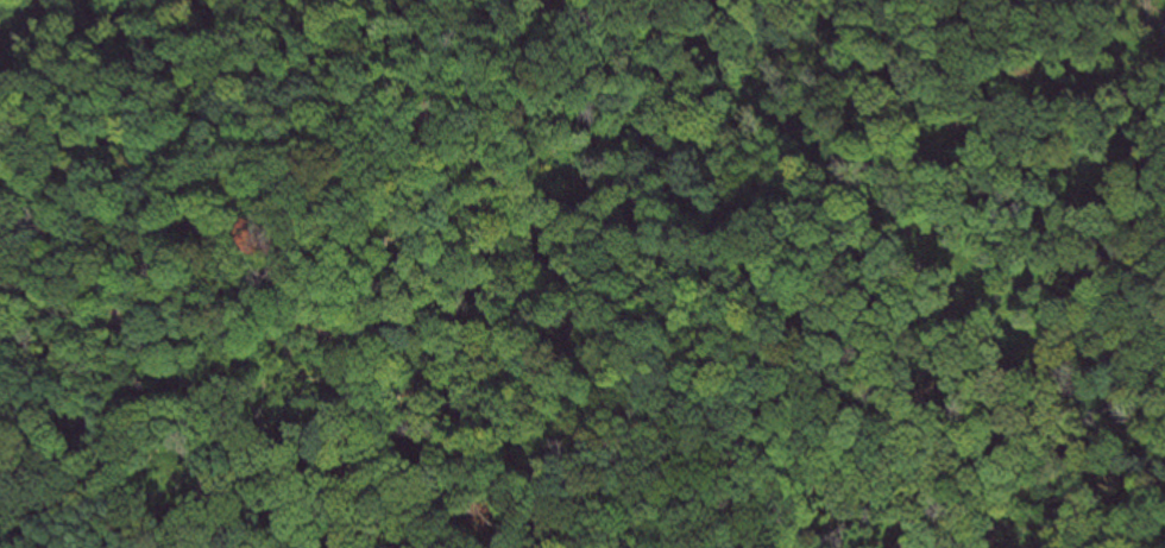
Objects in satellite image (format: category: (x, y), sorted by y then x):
road: (367, 160)
road: (594, 399)

